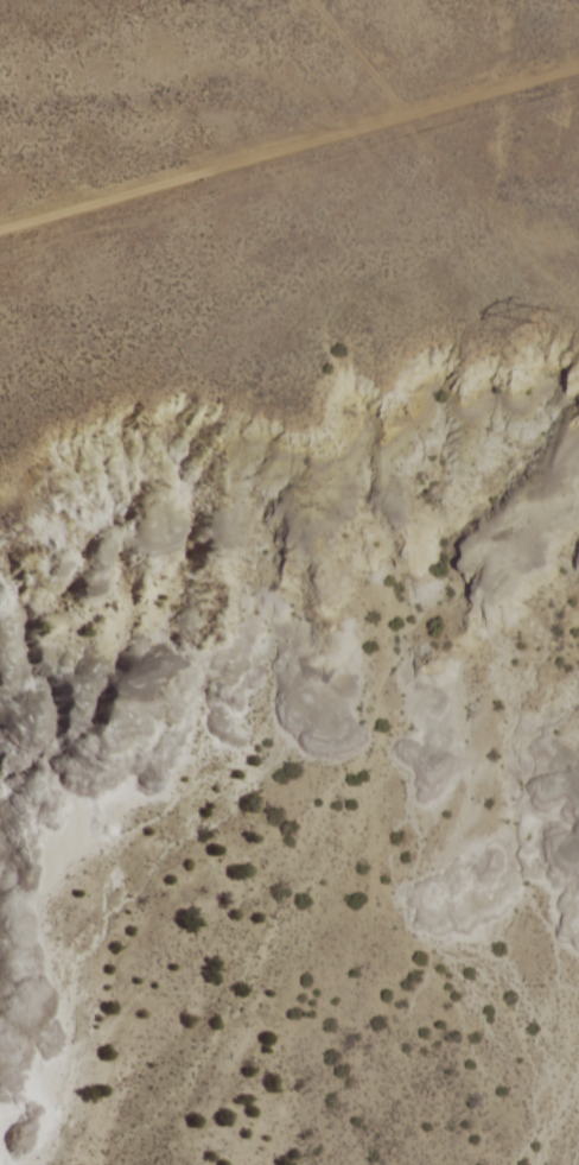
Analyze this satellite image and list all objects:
road: (289, 99)
power tower: (539, 316)

